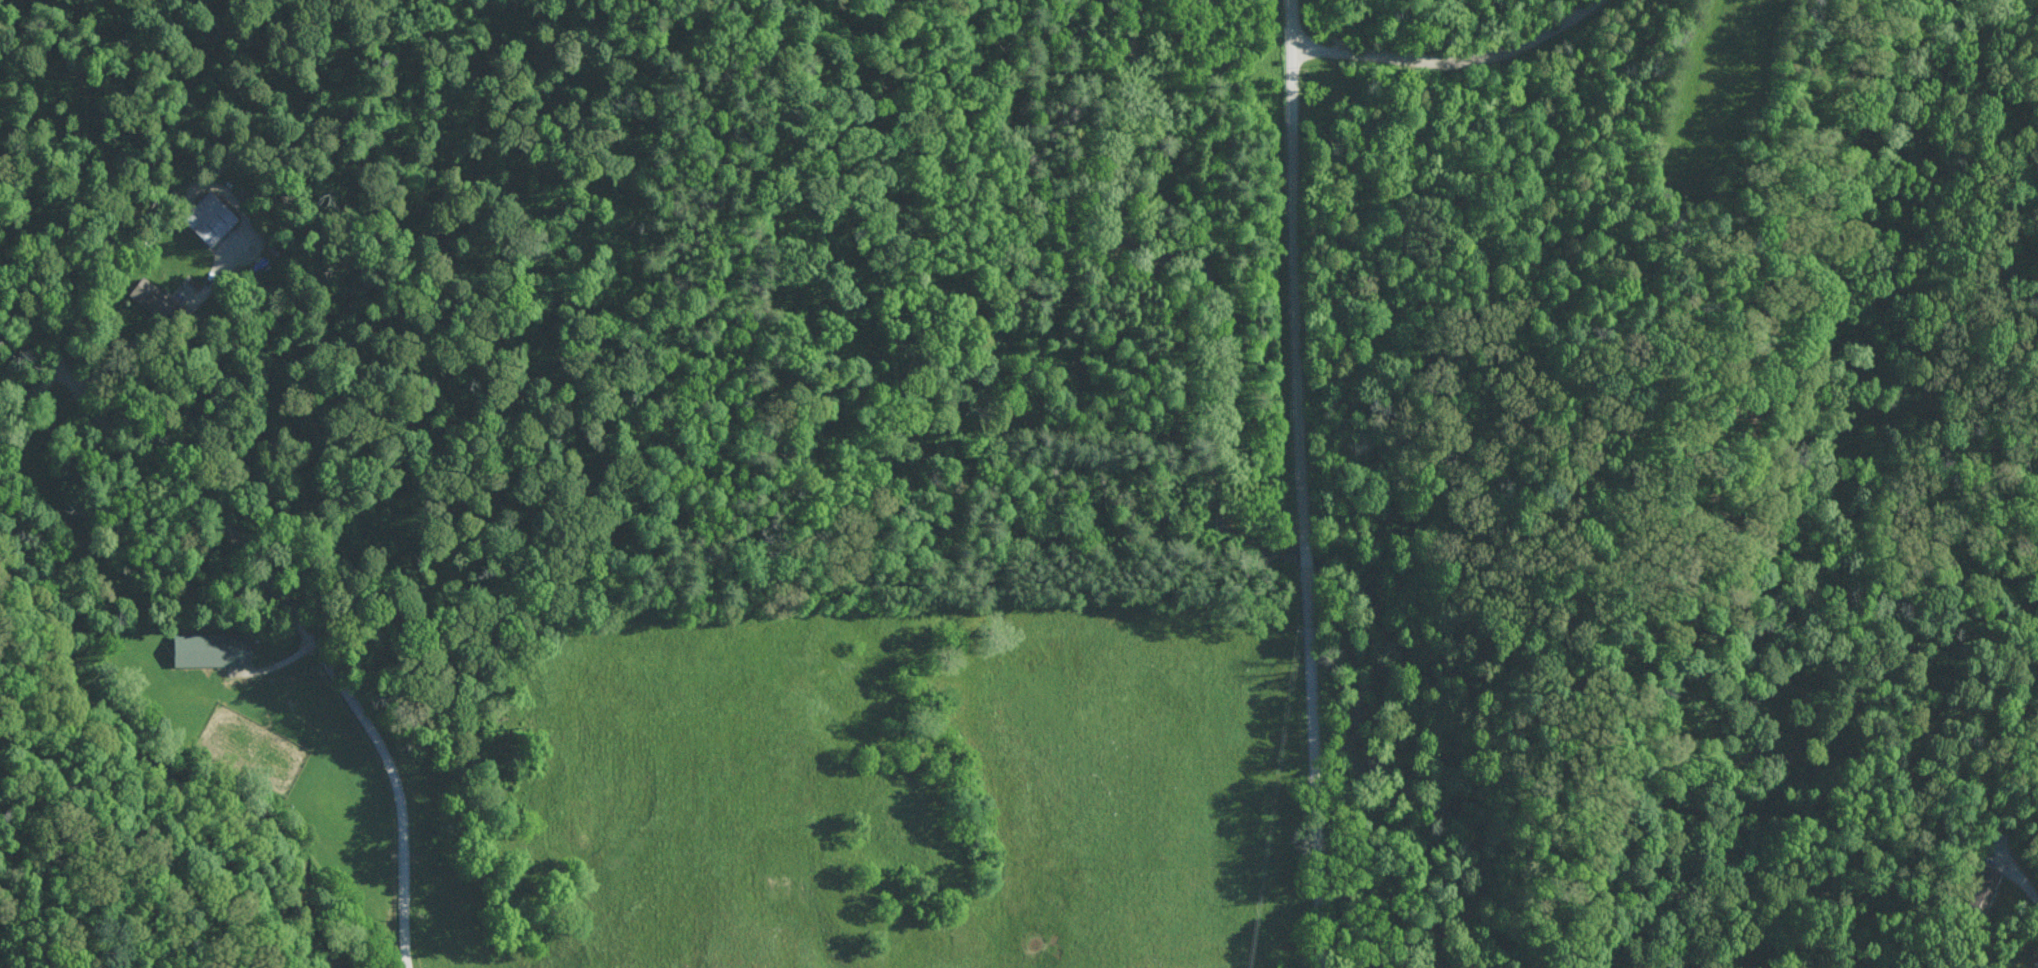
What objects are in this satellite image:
road: (1456, 49)
building: (209, 217)
road: (1294, 271)
building: (152, 298)
road: (136, 344)
road: (1304, 555)
road: (279, 595)
building: (212, 649)
road: (1313, 768)
road: (2018, 877)

